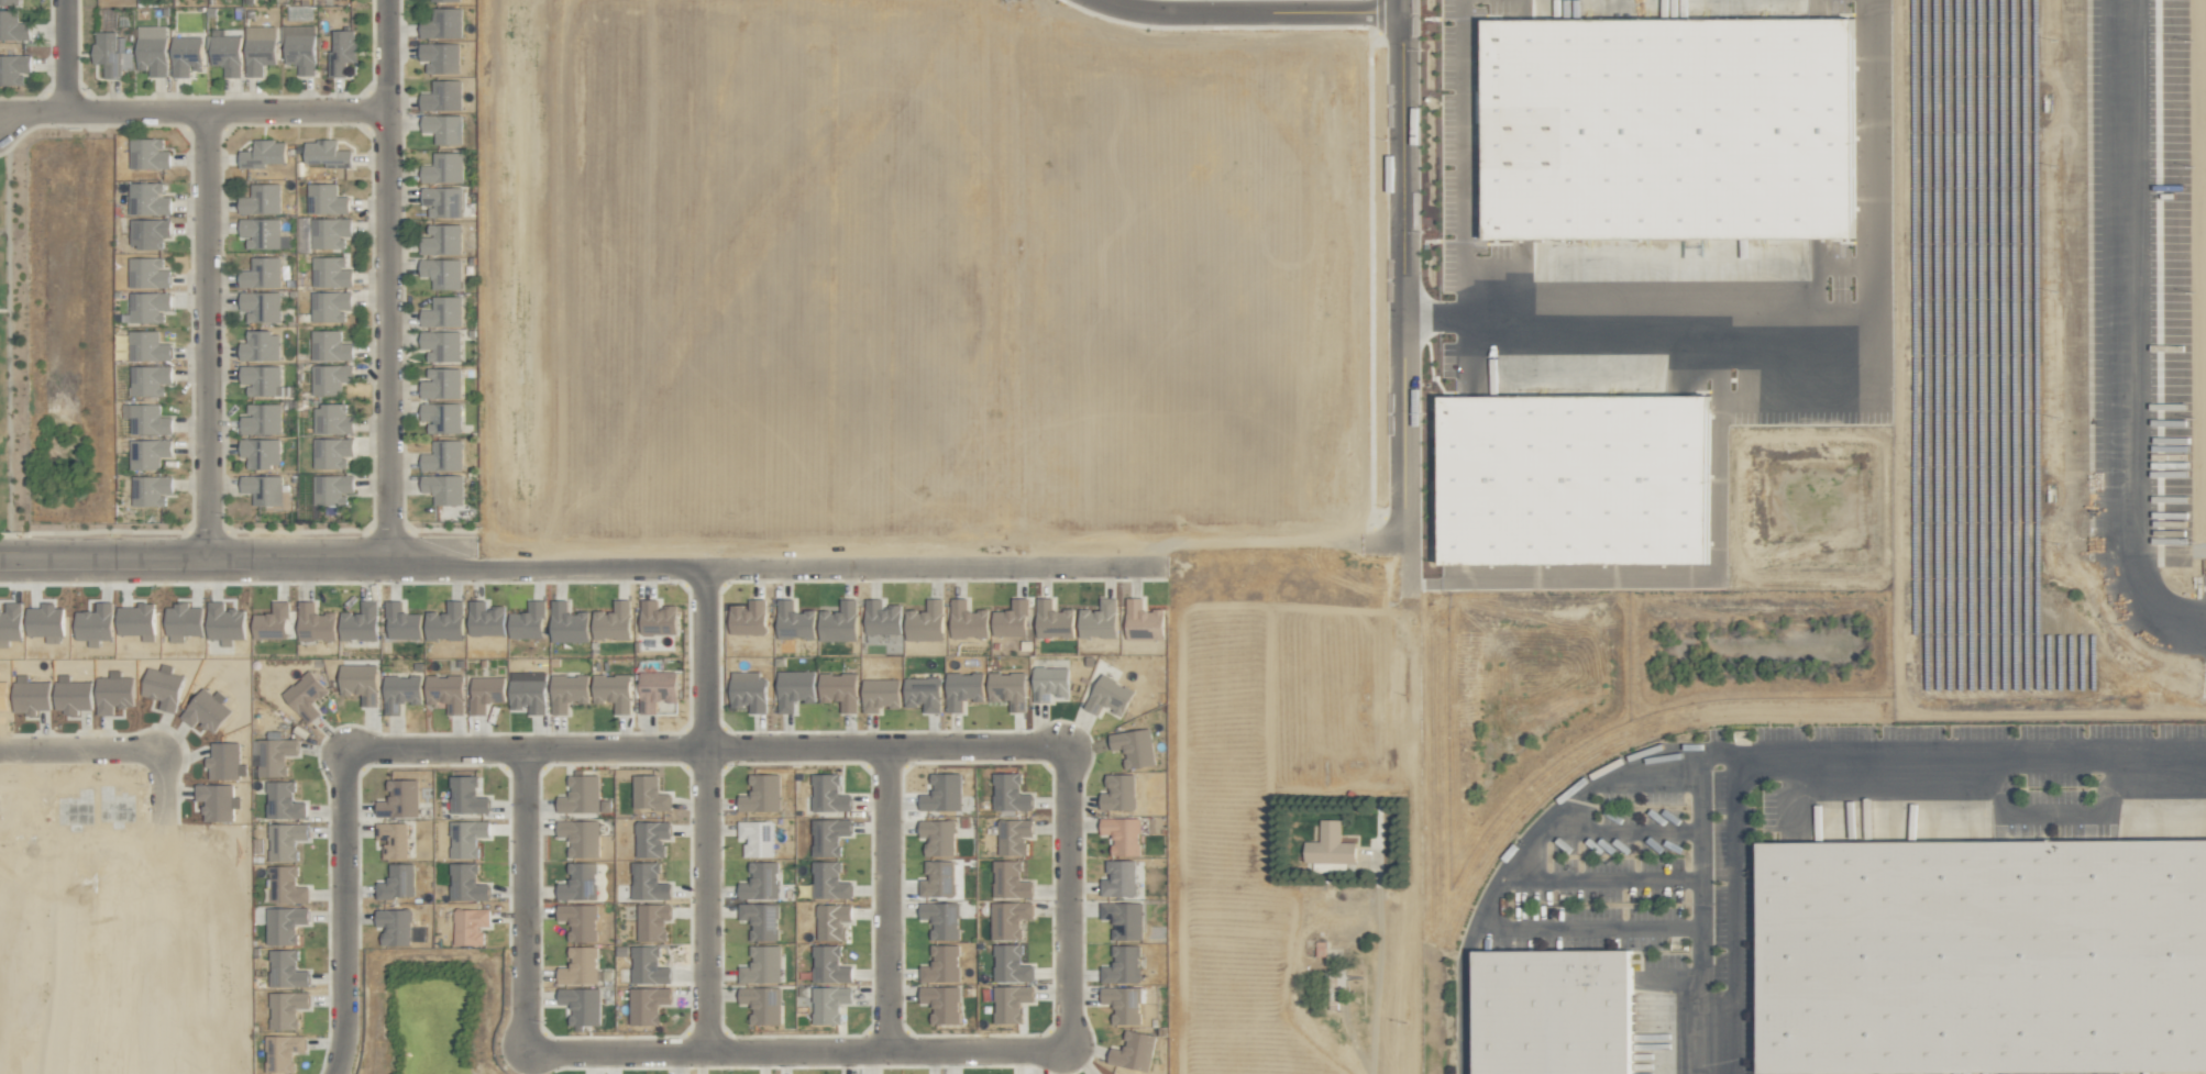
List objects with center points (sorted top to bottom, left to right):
building: (441, 0)
road: (1240, 11)
building: (442, 23)
building: (12, 25)
building: (152, 33)
building: (298, 47)
building: (341, 49)
building: (110, 53)
building: (224, 53)
building: (258, 53)
building: (185, 55)
road: (63, 56)
building: (440, 56)
building: (442, 95)
road: (191, 111)
building: (1670, 126)
building: (443, 128)
building: (147, 153)
building: (326, 153)
building: (263, 154)
road: (1455, 160)
building: (443, 167)
building: (319, 190)
building: (147, 198)
building: (261, 199)
building: (443, 201)
building: (148, 232)
building: (260, 232)
building: (329, 232)
building: (442, 239)
building: (330, 272)
building: (442, 272)
building: (148, 273)
building: (261, 273)
road: (1392, 274)
road: (386, 280)
building: (261, 305)
building: (148, 306)
building: (330, 306)
building: (443, 311)
road: (1782, 318)
road: (206, 331)
road: (2129, 332)
building: (441, 344)
building: (148, 345)
building: (260, 345)
building: (329, 345)
building: (329, 378)
building: (150, 379)
building: (261, 379)
building: (442, 384)
building: (441, 417)
building: (148, 419)
building: (261, 419)
building: (331, 419)
building: (147, 452)
building: (260, 452)
building: (331, 452)
building: (443, 455)
building: (1578, 478)
building: (331, 488)
building: (442, 488)
building: (150, 490)
building: (266, 490)
road: (580, 562)
building: (1143, 616)
building: (881, 617)
building: (658, 618)
building: (749, 618)
building: (831, 618)
building: (485, 619)
building: (1011, 619)
building: (1099, 619)
building: (136, 620)
building: (967, 620)
building: (1052, 620)
building: (45, 621)
building: (183, 621)
building: (272, 621)
building: (613, 621)
building: (796, 621)
building: (925, 621)
building: (10, 622)
building: (224, 622)
building: (315, 622)
building: (360, 622)
building: (444, 622)
building: (527, 622)
building: (93, 623)
building: (567, 623)
building: (404, 625)
building: (360, 682)
building: (1049, 683)
building: (751, 688)
building: (794, 688)
building: (657, 689)
building: (839, 689)
building: (1007, 689)
building: (613, 690)
building: (960, 690)
building: (400, 691)
building: (445, 691)
building: (567, 691)
building: (485, 693)
building: (923, 693)
building: (881, 694)
building: (305, 695)
building: (528, 695)
building: (1108, 696)
road: (706, 744)
road: (67, 746)
building: (1134, 746)
road: (1790, 750)
building: (273, 753)
building: (942, 793)
building: (1010, 793)
building: (1118, 793)
building: (648, 794)
building: (761, 794)
building: (828, 794)
building: (581, 795)
building: (466, 796)
building: (399, 799)
building: (284, 800)
road: (706, 806)
road: (1615, 828)
building: (1123, 834)
building: (1013, 835)
building: (581, 837)
building: (938, 837)
building: (466, 838)
building: (651, 838)
building: (755, 838)
building: (391, 839)
building: (285, 840)
building: (827, 843)
building: (1330, 845)
road: (1513, 859)
building: (1119, 878)
road: (1601, 878)
building: (938, 879)
building: (1010, 879)
building: (761, 881)
building: (829, 881)
building: (397, 882)
building: (580, 882)
building: (648, 882)
building: (466, 883)
building: (286, 885)
road: (1733, 890)
road: (886, 896)
road: (1070, 896)
road: (526, 899)
road: (344, 911)
building: (941, 919)
building: (1008, 919)
building: (580, 920)
building: (761, 920)
building: (652, 921)
building: (832, 921)
building: (1128, 921)
building: (284, 924)
road: (1589, 924)
building: (395, 926)
building: (471, 926)
building: (1983, 956)
building: (942, 964)
building: (1011, 964)
building: (762, 965)
building: (829, 965)
building: (1123, 965)
building: (580, 966)
building: (648, 966)
building: (286, 970)
road: (1356, 977)
building: (1011, 1003)
building: (762, 1004)
building: (829, 1004)
building: (942, 1004)
building: (1123, 1004)
building: (581, 1005)
building: (647, 1005)
building: (286, 1009)
road: (799, 1049)
building: (1134, 1051)
building: (285, 1052)

